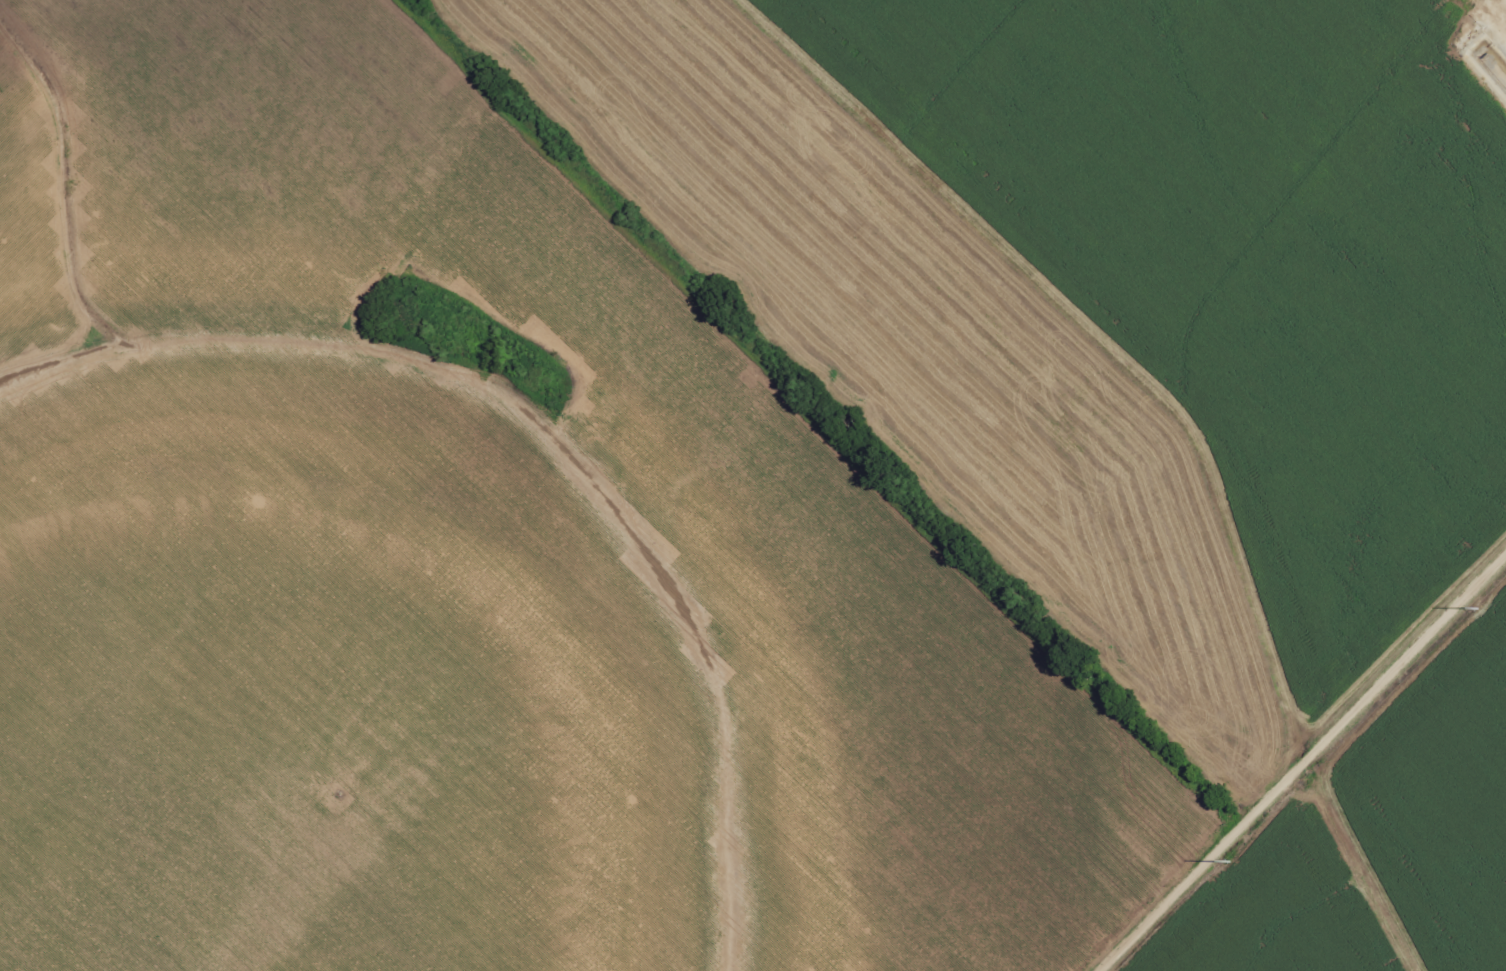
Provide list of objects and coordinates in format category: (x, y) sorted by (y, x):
power tower: (1475, 610)
road: (1307, 765)
power tower: (1230, 861)

